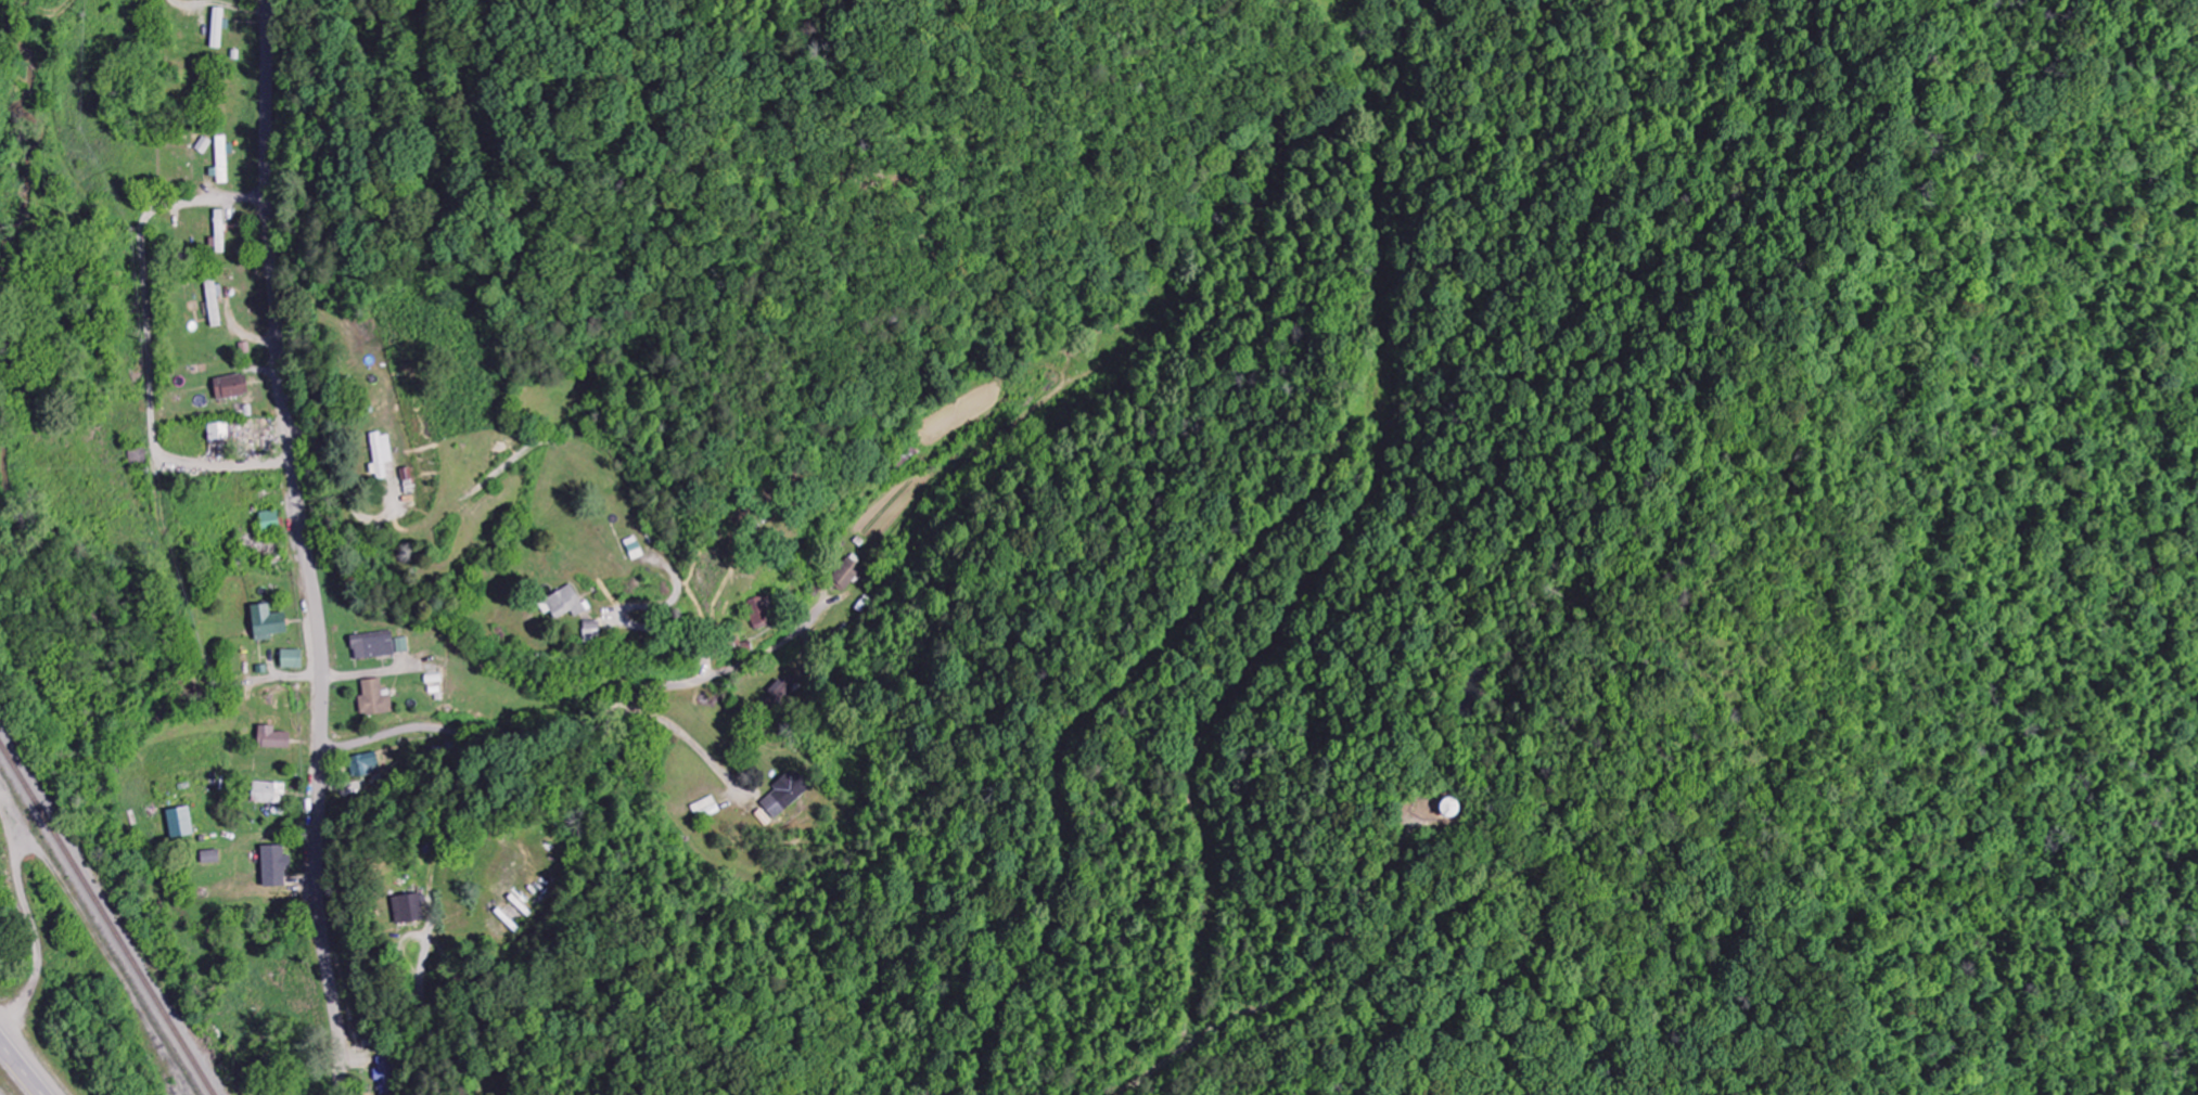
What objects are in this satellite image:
building: (220, 233)
road: (148, 343)
building: (231, 387)
building: (218, 433)
building: (381, 455)
building: (270, 521)
road: (307, 547)
building: (847, 574)
building: (563, 604)
building: (762, 611)
building: (267, 623)
building: (373, 646)
building: (292, 660)
building: (374, 699)
road: (582, 722)
building: (272, 739)
building: (366, 766)
building: (269, 794)
building: (785, 794)
building: (1451, 808)
building: (180, 823)
building: (273, 867)
building: (409, 909)
railway: (106, 919)
road: (421, 995)
road: (16, 1072)

